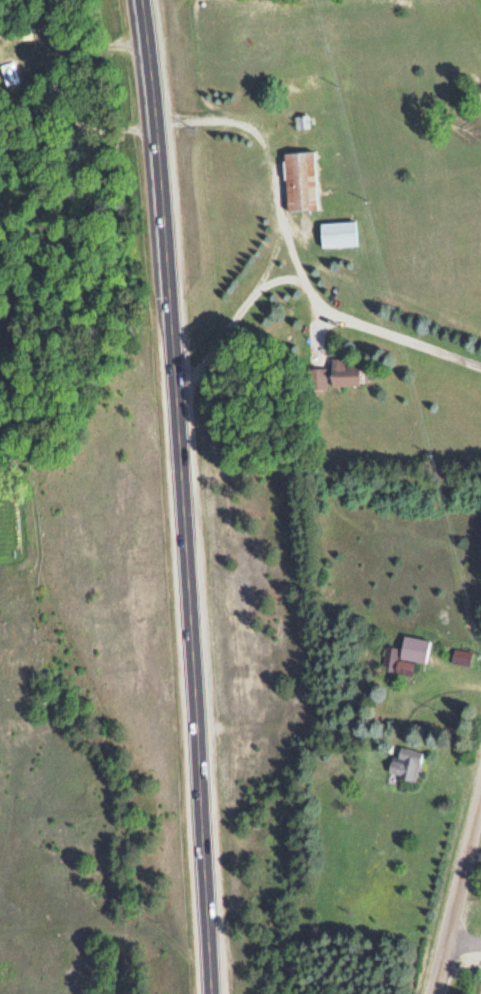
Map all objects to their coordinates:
building: (10, 70)
building: (302, 81)
building: (300, 179)
building: (338, 232)
building: (344, 372)
building: (316, 377)
road: (180, 496)
building: (414, 647)
building: (461, 655)
building: (388, 656)
building: (405, 763)
road: (457, 893)

